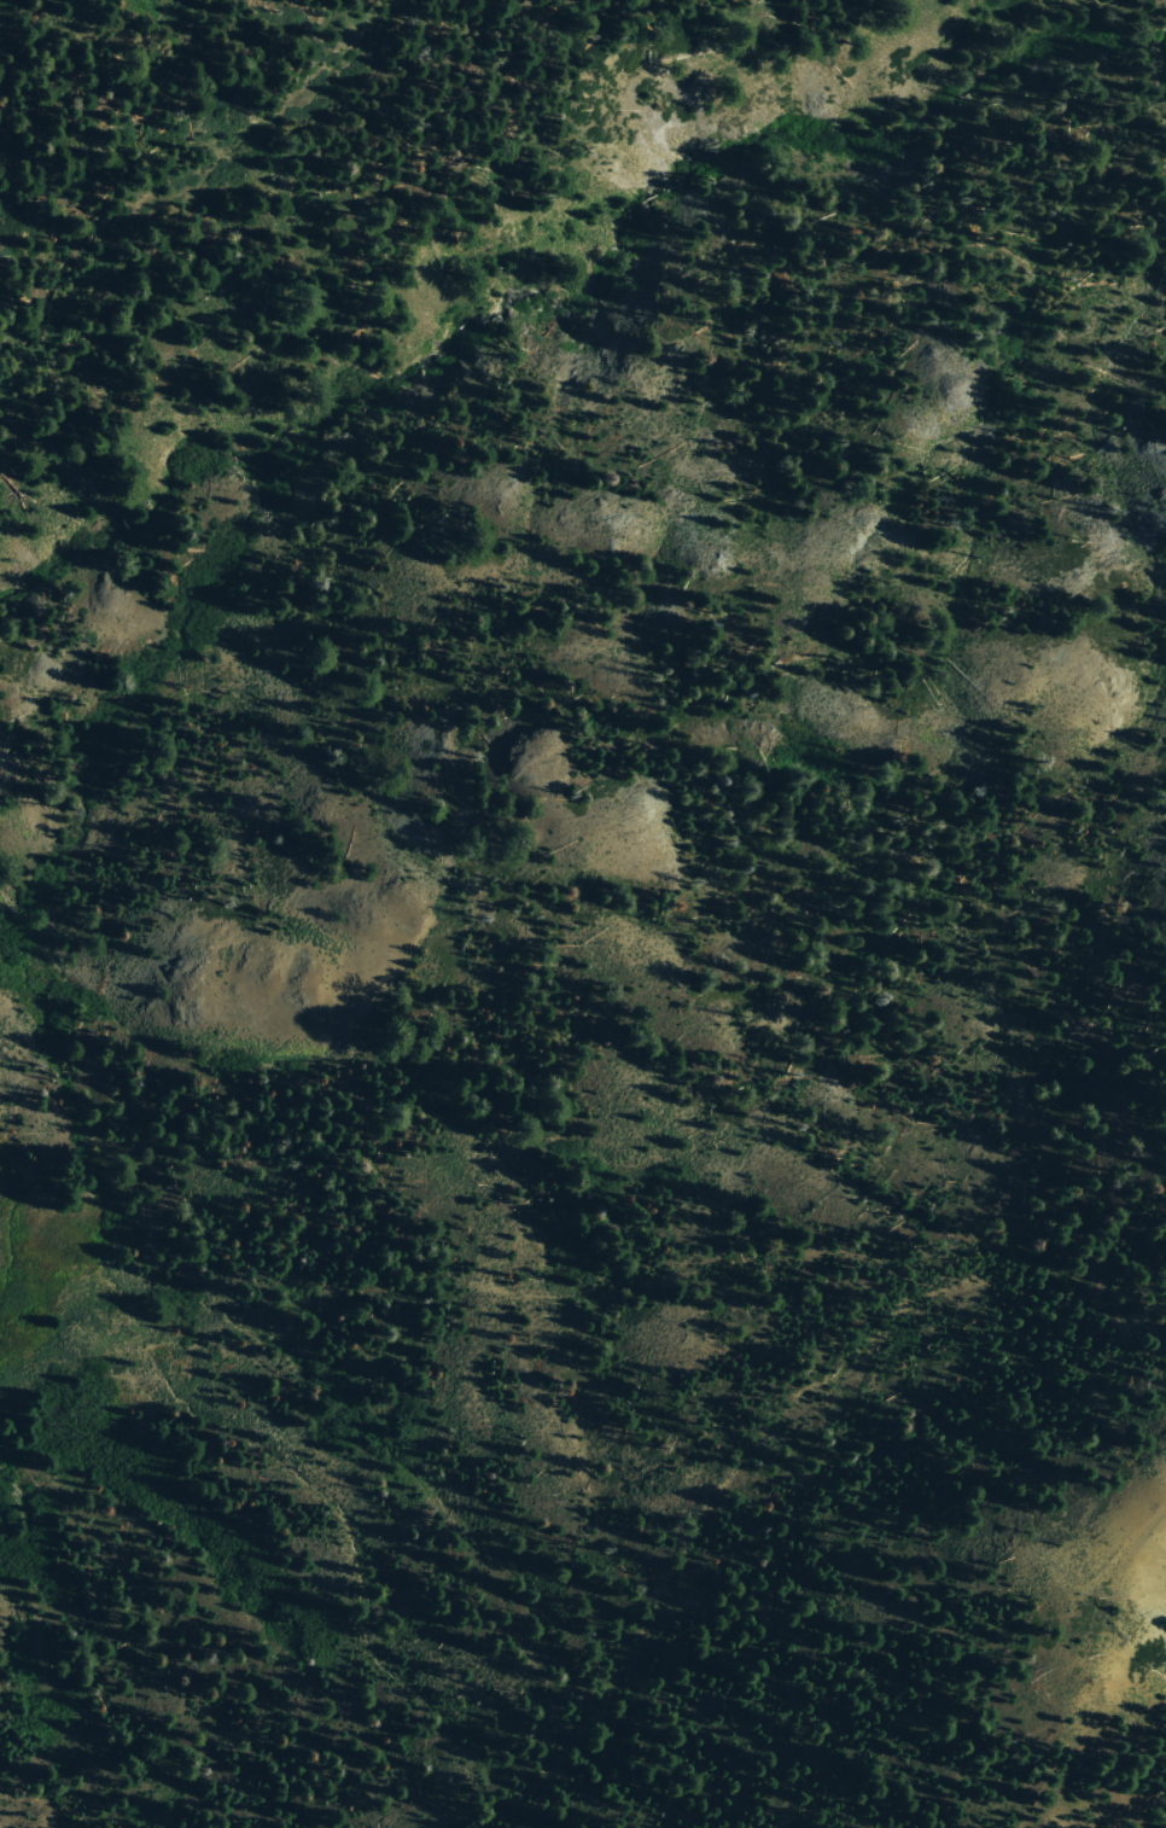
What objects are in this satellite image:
road: (168, 174)

